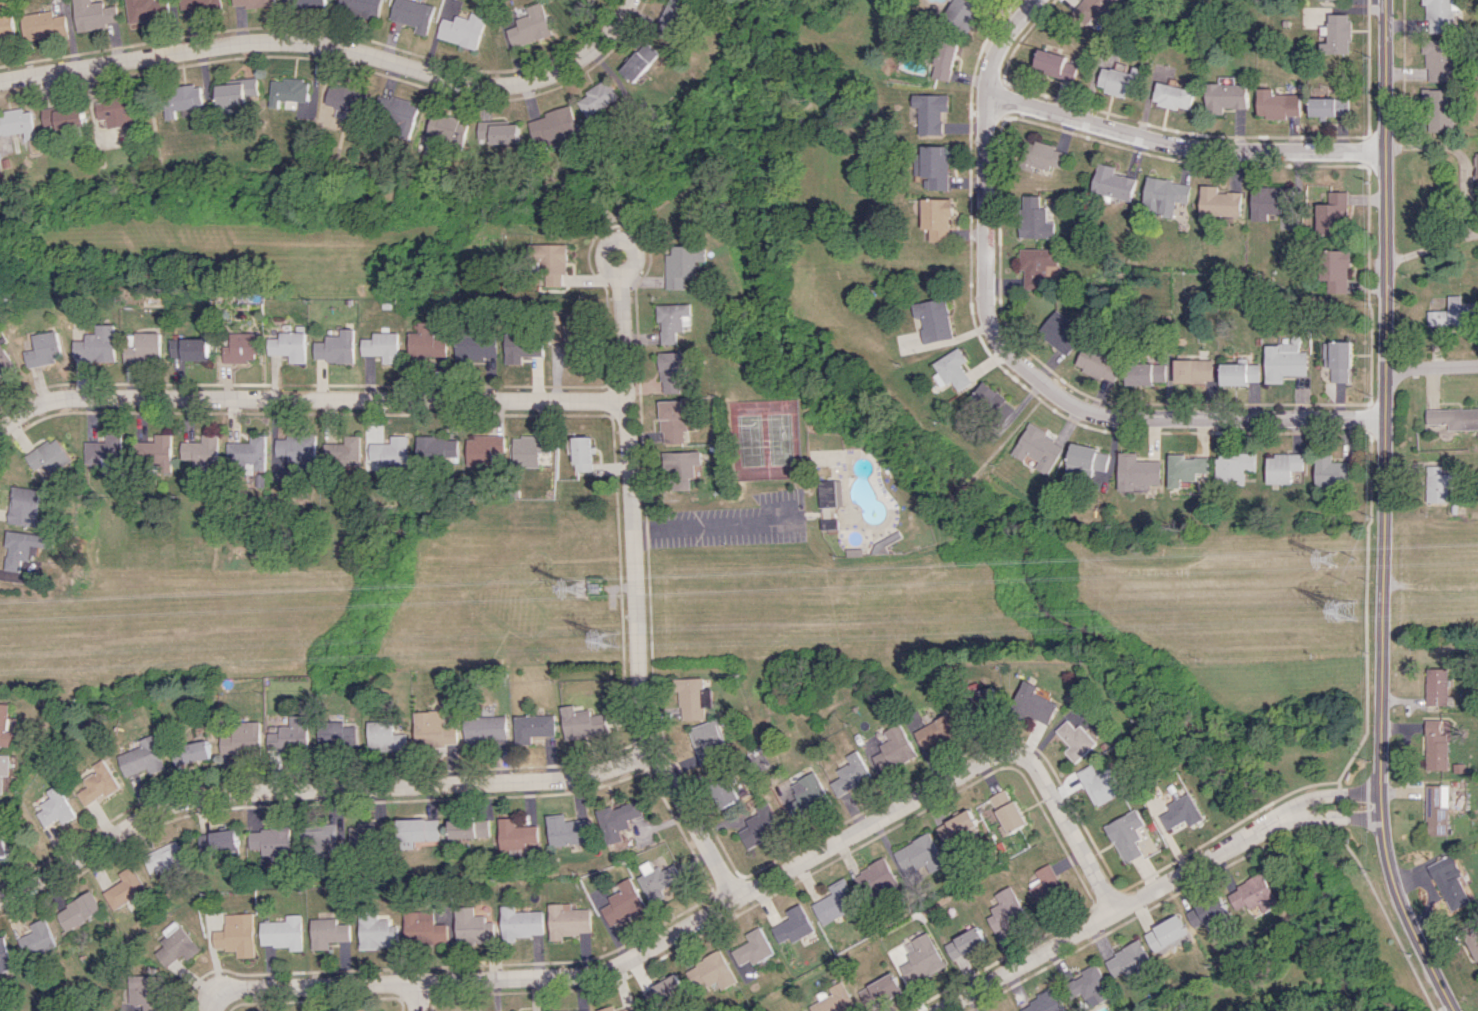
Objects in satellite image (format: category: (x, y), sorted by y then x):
building: (198, 3)
building: (250, 3)
building: (305, 3)
building: (357, 7)
building: (1089, 8)
building: (143, 9)
building: (962, 12)
building: (91, 14)
building: (411, 14)
building: (1439, 15)
building: (672, 17)
building: (4, 20)
building: (40, 25)
building: (529, 26)
building: (461, 29)
building: (1336, 33)
road: (1000, 43)
road: (334, 48)
building: (944, 59)
building: (1439, 59)
building: (640, 61)
building: (1055, 63)
building: (1117, 81)
building: (234, 92)
building: (1171, 95)
building: (291, 96)
building: (1224, 97)
building: (598, 98)
building: (180, 99)
building: (344, 99)
building: (1275, 104)
building: (1328, 106)
building: (1440, 109)
building: (117, 111)
building: (397, 113)
building: (932, 113)
building: (62, 117)
building: (17, 122)
building: (553, 128)
building: (499, 132)
road: (1181, 145)
building: (1043, 158)
building: (1477, 160)
building: (936, 167)
building: (1112, 182)
building: (1164, 195)
road: (1466, 196)
building: (1269, 200)
building: (1218, 203)
building: (1333, 214)
building: (937, 217)
building: (1033, 218)
building: (552, 262)
building: (683, 265)
building: (1037, 266)
building: (1338, 271)
building: (1454, 313)
building: (933, 319)
building: (674, 321)
building: (1058, 332)
building: (428, 342)
building: (577, 344)
building: (97, 346)
building: (145, 346)
building: (290, 346)
building: (384, 346)
building: (478, 346)
building: (242, 347)
building: (337, 347)
building: (524, 347)
building: (191, 348)
building: (45, 349)
building: (6, 360)
building: (1337, 360)
building: (1284, 361)
building: (1094, 364)
road: (1428, 367)
building: (951, 369)
building: (675, 370)
building: (1191, 370)
building: (1143, 373)
building: (1238, 373)
road: (311, 398)
road: (1056, 399)
building: (990, 400)
building: (1454, 417)
building: (674, 422)
building: (485, 448)
building: (1037, 448)
building: (296, 449)
building: (438, 449)
building: (344, 450)
building: (530, 450)
building: (154, 451)
building: (199, 451)
building: (392, 451)
building: (248, 453)
building: (102, 454)
building: (581, 454)
building: (48, 455)
building: (1084, 460)
building: (682, 466)
building: (1233, 467)
building: (1282, 467)
building: (1183, 468)
building: (1331, 471)
building: (1135, 472)
building: (1437, 485)
building: (831, 493)
building: (23, 506)
road: (1384, 512)
building: (829, 524)
road: (715, 526)
road: (633, 541)
building: (23, 547)
power tower: (1333, 562)
power tower: (601, 596)
power tower: (1349, 608)
power tower: (611, 639)
building: (1437, 687)
building: (692, 698)
building: (984, 699)
building: (1036, 703)
building: (582, 723)
building: (5, 726)
building: (532, 727)
building: (485, 729)
building: (433, 730)
building: (937, 731)
building: (291, 735)
building: (337, 735)
building: (242, 737)
building: (385, 737)
building: (1077, 740)
building: (707, 741)
building: (1435, 746)
building: (893, 749)
building: (192, 752)
building: (141, 757)
building: (4, 773)
building: (849, 774)
building: (97, 783)
building: (1098, 785)
road: (312, 789)
building: (726, 793)
building: (806, 795)
building: (52, 806)
building: (1436, 809)
building: (1007, 811)
building: (1182, 812)
building: (616, 819)
building: (760, 824)
building: (956, 826)
building: (468, 828)
building: (565, 830)
building: (416, 831)
building: (369, 834)
building: (515, 835)
building: (1126, 835)
building: (319, 837)
building: (220, 842)
building: (272, 842)
building: (920, 855)
building: (169, 859)
building: (875, 878)
building: (657, 879)
building: (1450, 881)
building: (1046, 884)
building: (126, 888)
road: (1155, 892)
building: (1254, 895)
building: (836, 901)
building: (623, 902)
road: (714, 908)
building: (81, 910)
building: (1007, 911)
building: (1209, 914)
building: (567, 920)
building: (520, 922)
building: (793, 925)
building: (471, 926)
building: (423, 928)
building: (377, 931)
building: (284, 932)
building: (329, 932)
building: (1166, 932)
building: (238, 934)
building: (39, 938)
building: (965, 942)
building: (1473, 942)
building: (175, 944)
building: (753, 949)
building: (5, 955)
building: (922, 959)
building: (1129, 960)
building: (712, 971)
road: (209, 982)
building: (1089, 985)
building: (664, 991)
building: (880, 991)
road: (417, 996)
building: (834, 999)
building: (1045, 1002)
building: (608, 1006)
building: (572, 1010)
building: (803, 1010)

